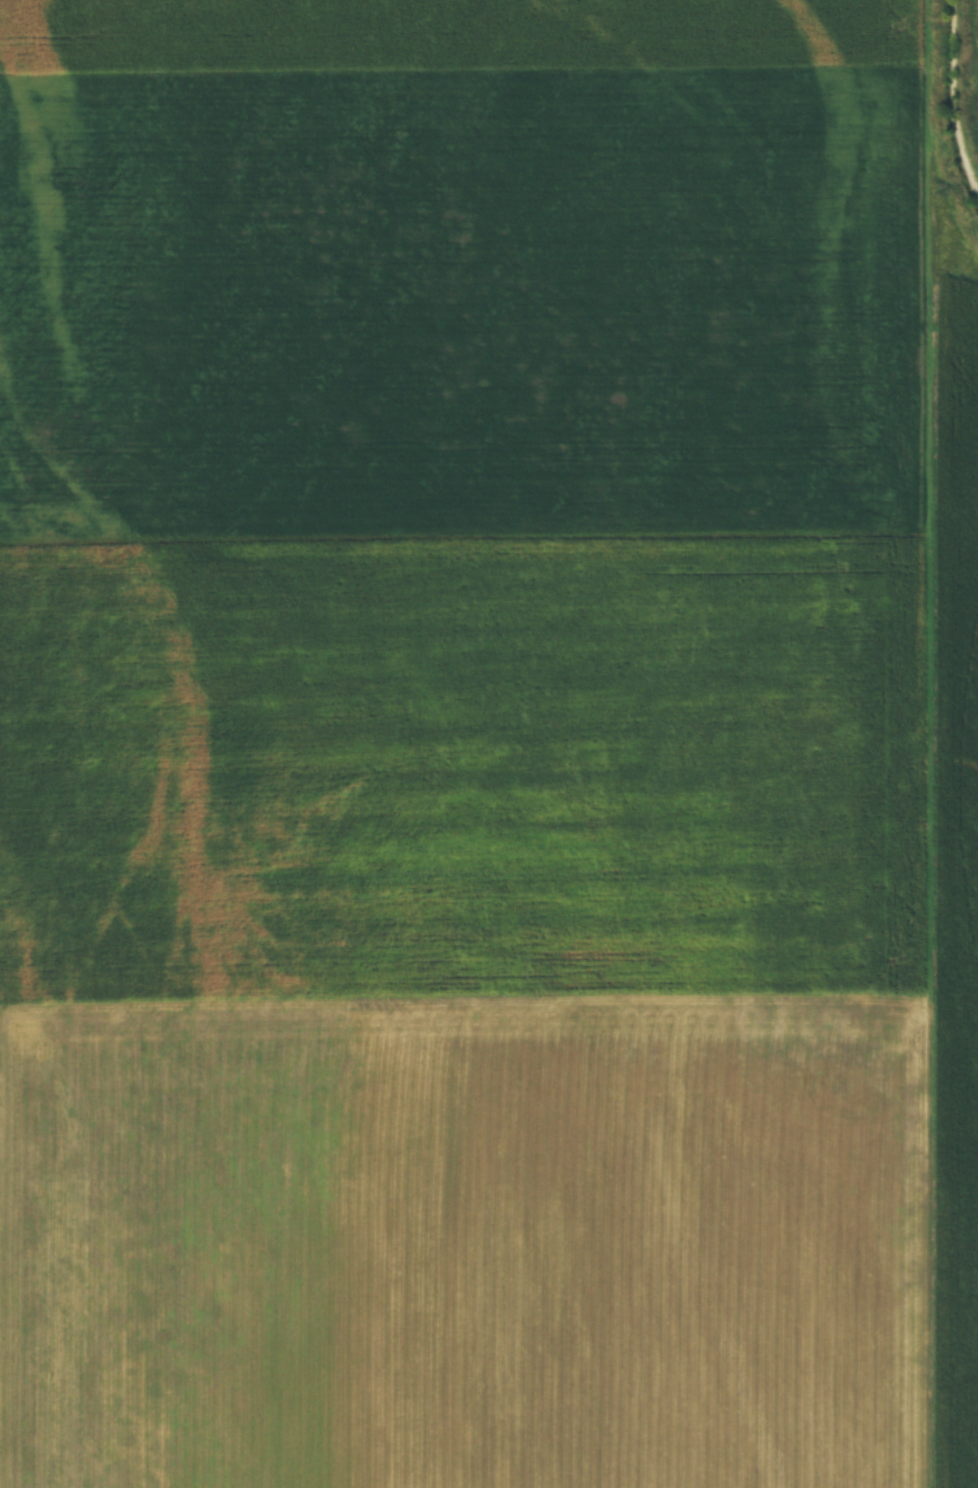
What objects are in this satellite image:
river: (956, 83)

